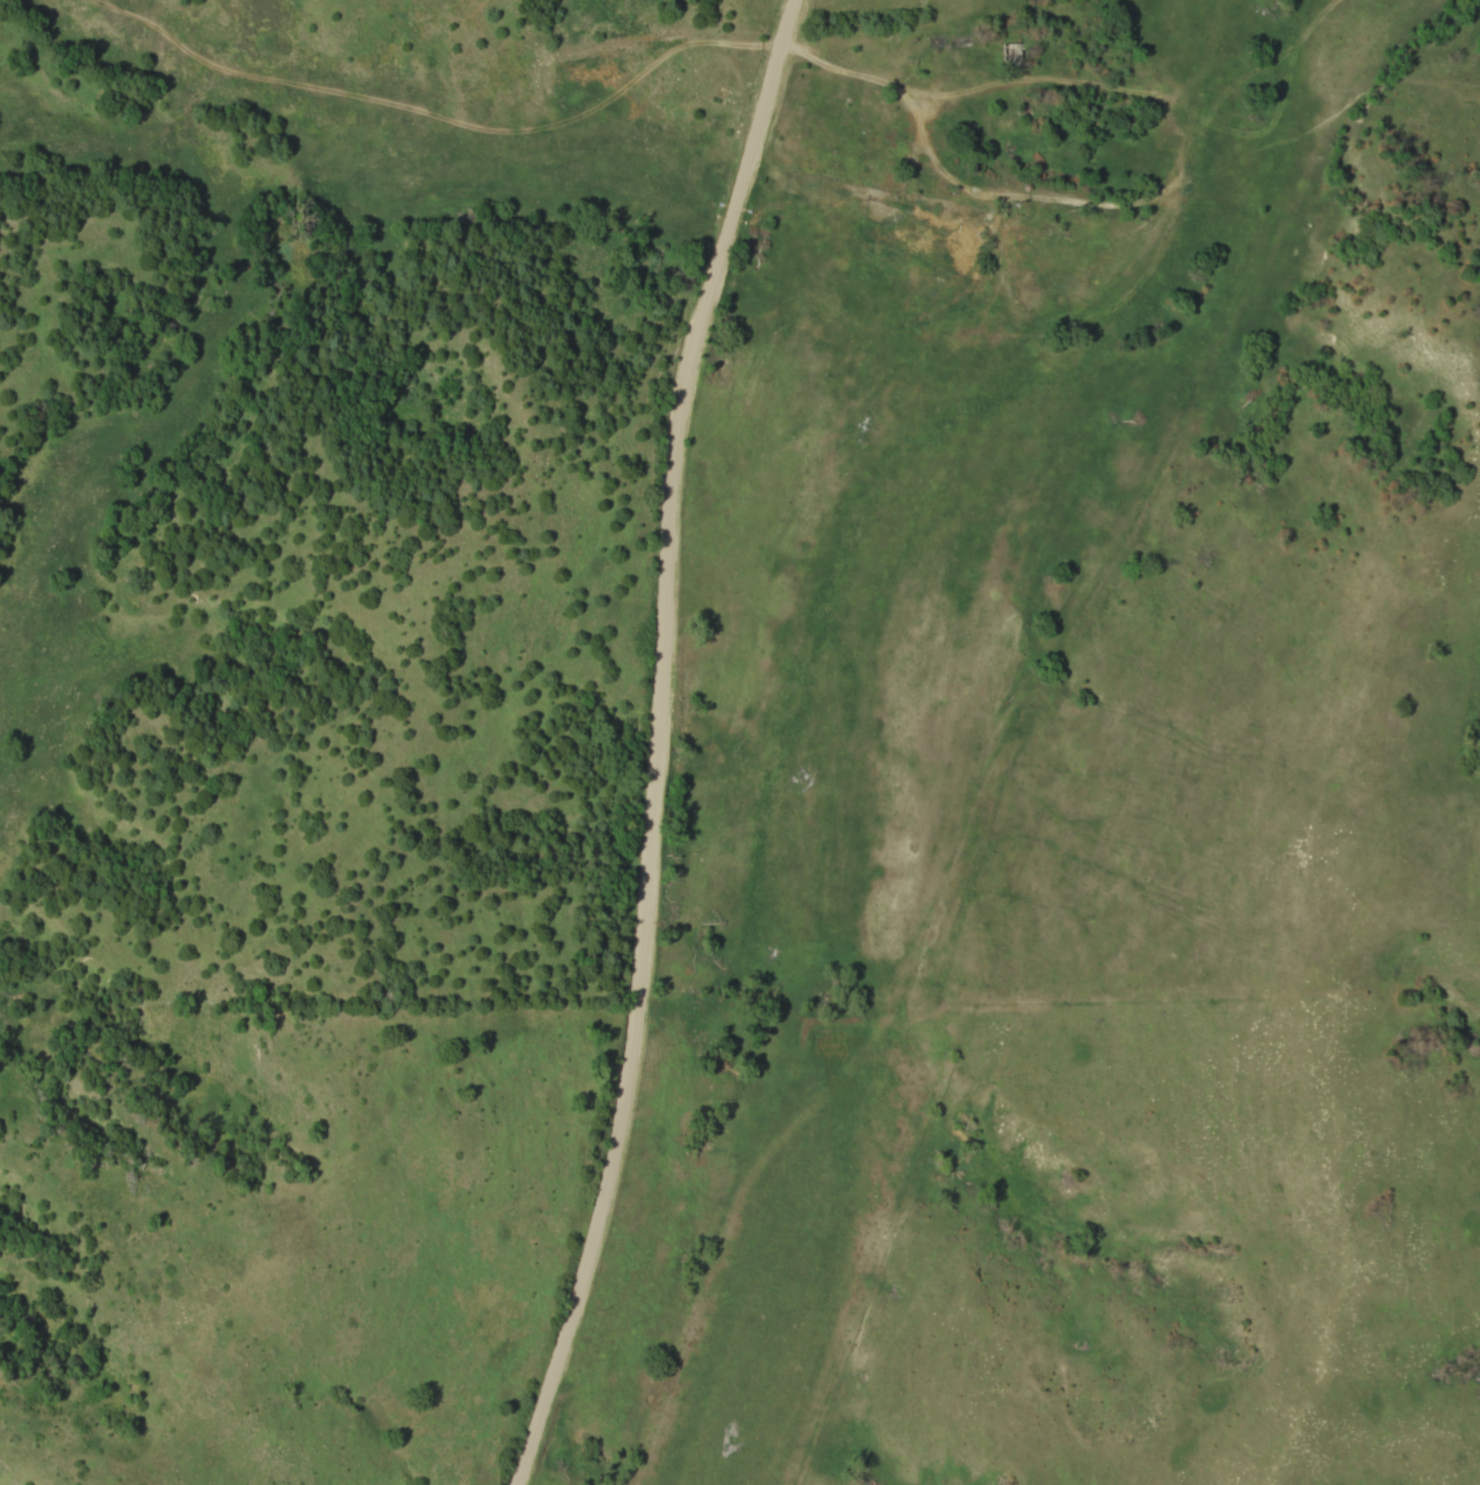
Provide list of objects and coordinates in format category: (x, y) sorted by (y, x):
building: (934, 40)
building: (1010, 50)
road: (1077, 199)
road: (656, 741)

